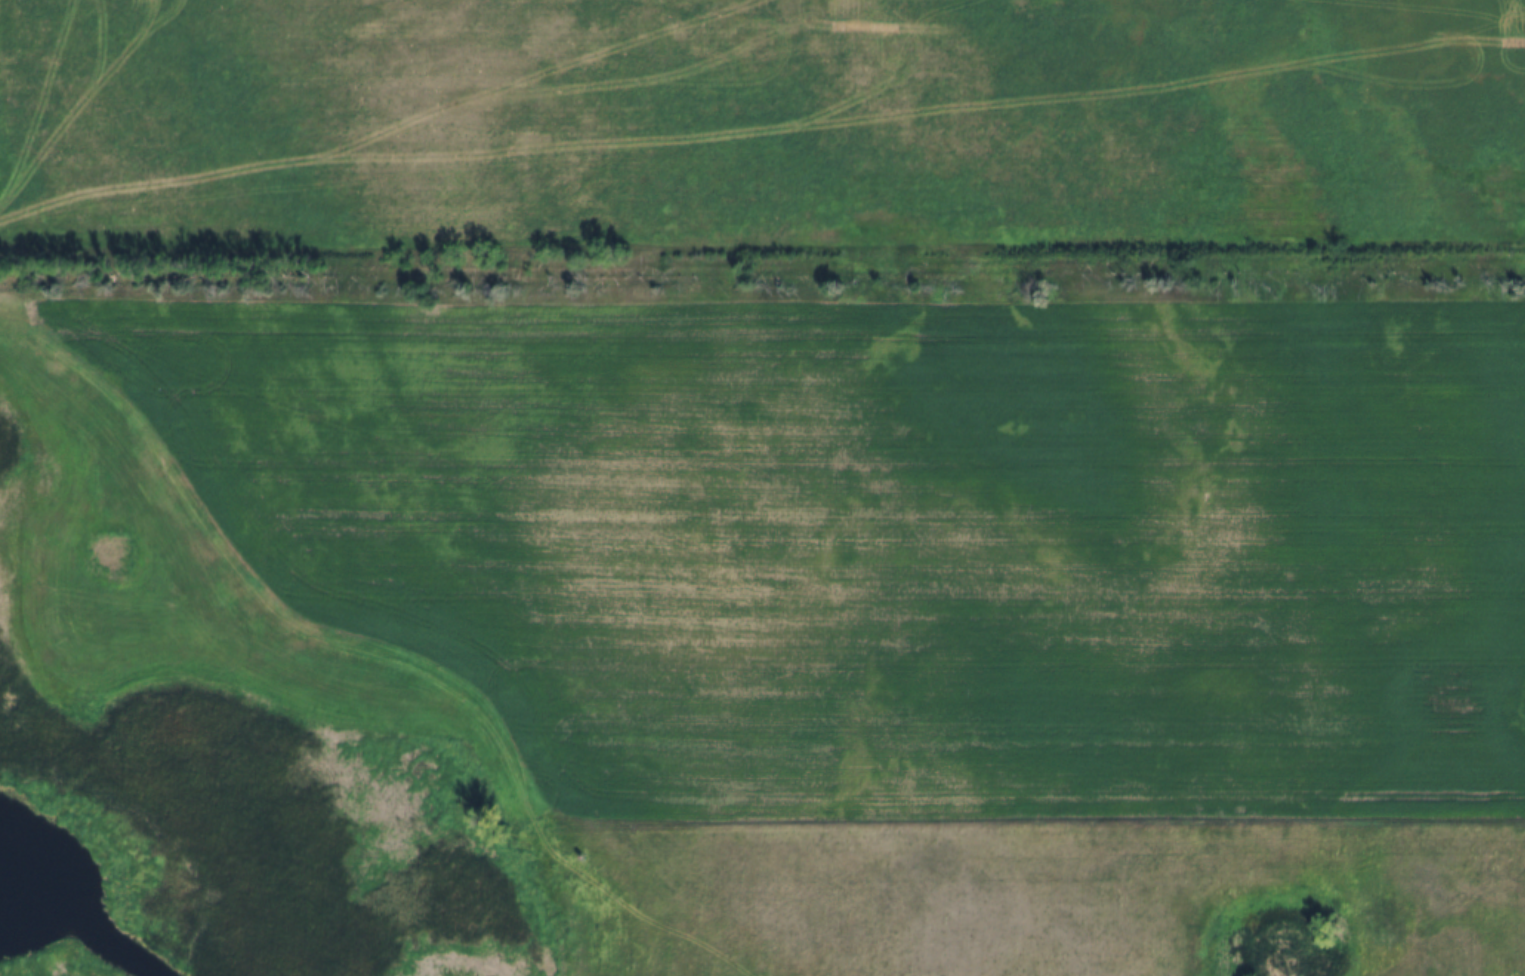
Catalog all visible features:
river: (88, 924)

